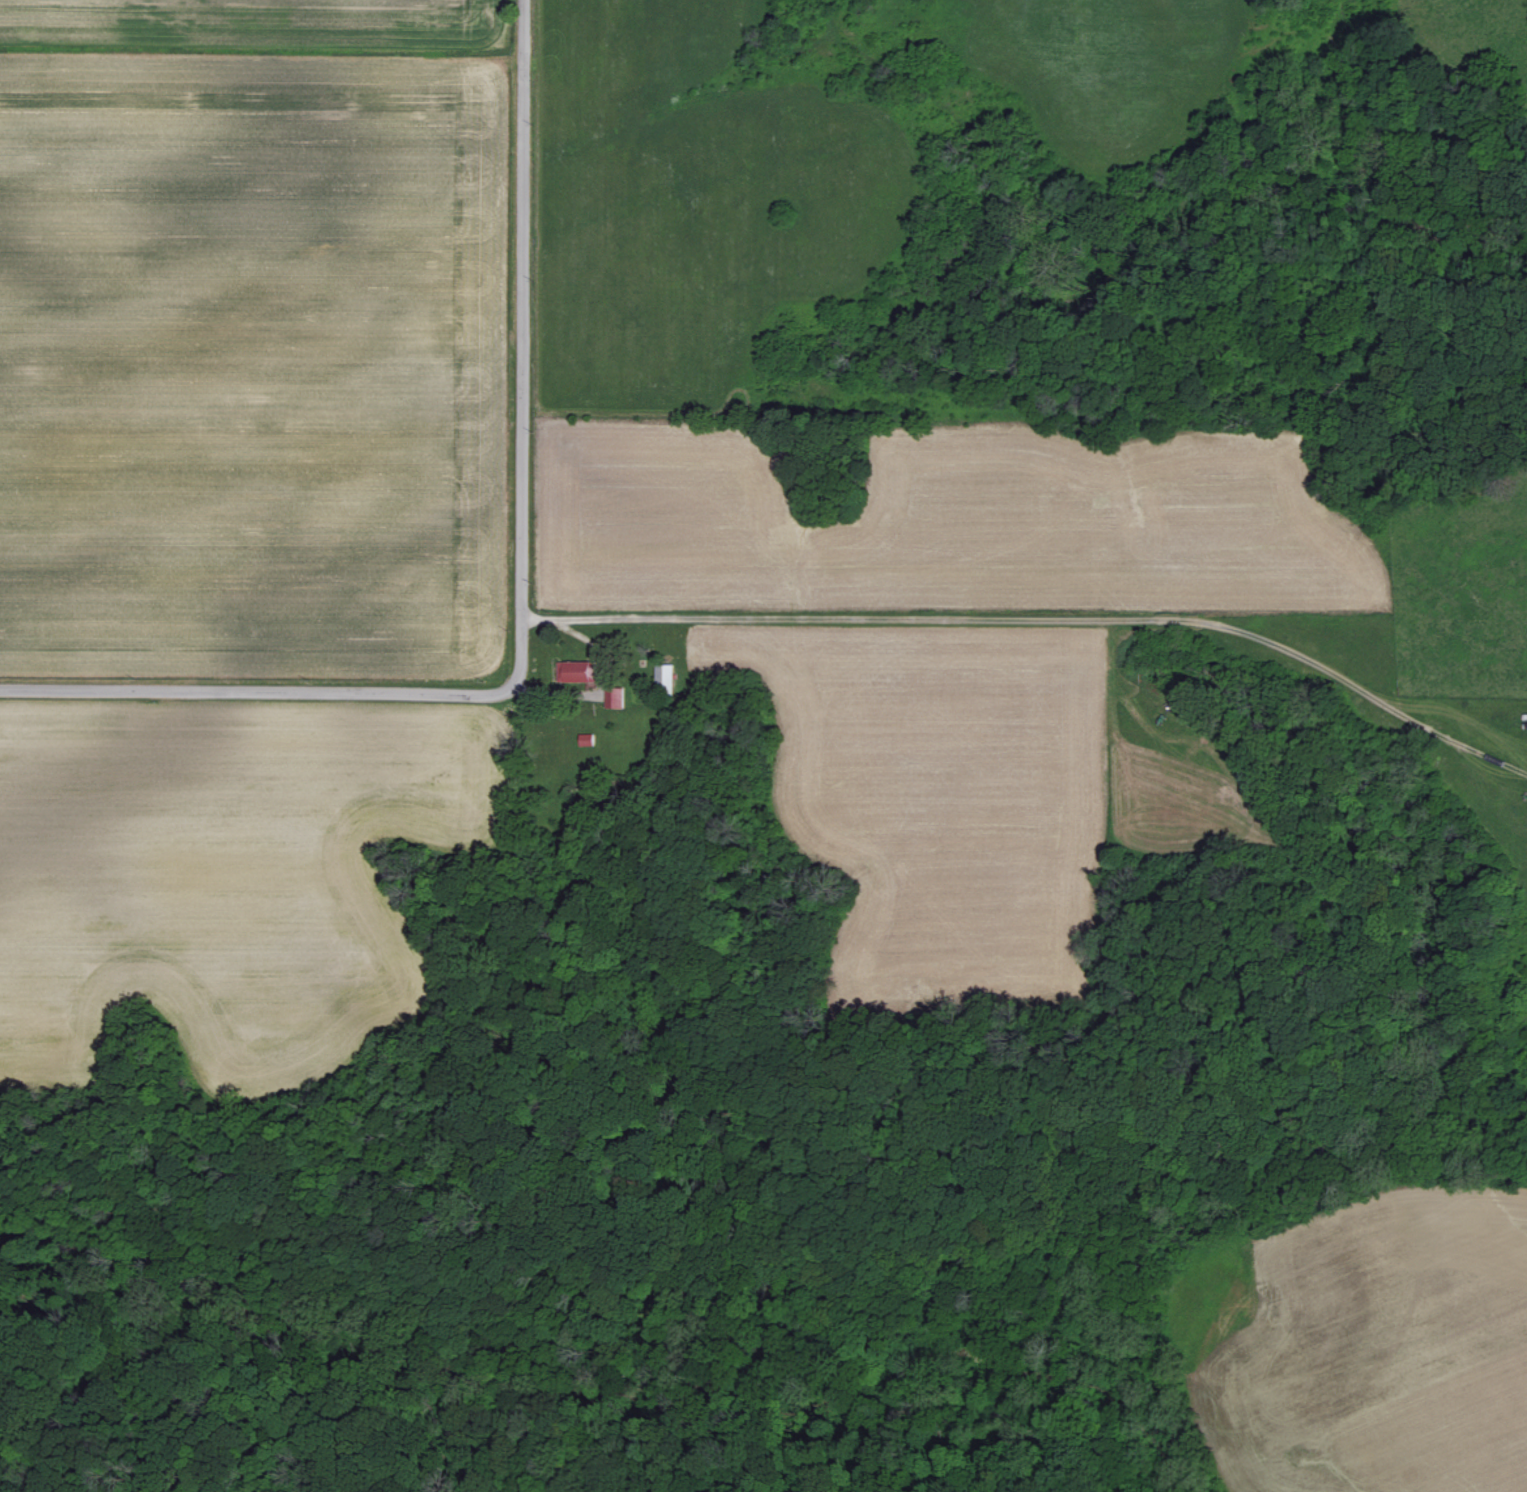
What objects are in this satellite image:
road: (523, 343)
building: (581, 675)
building: (665, 677)
road: (257, 693)
building: (615, 698)

